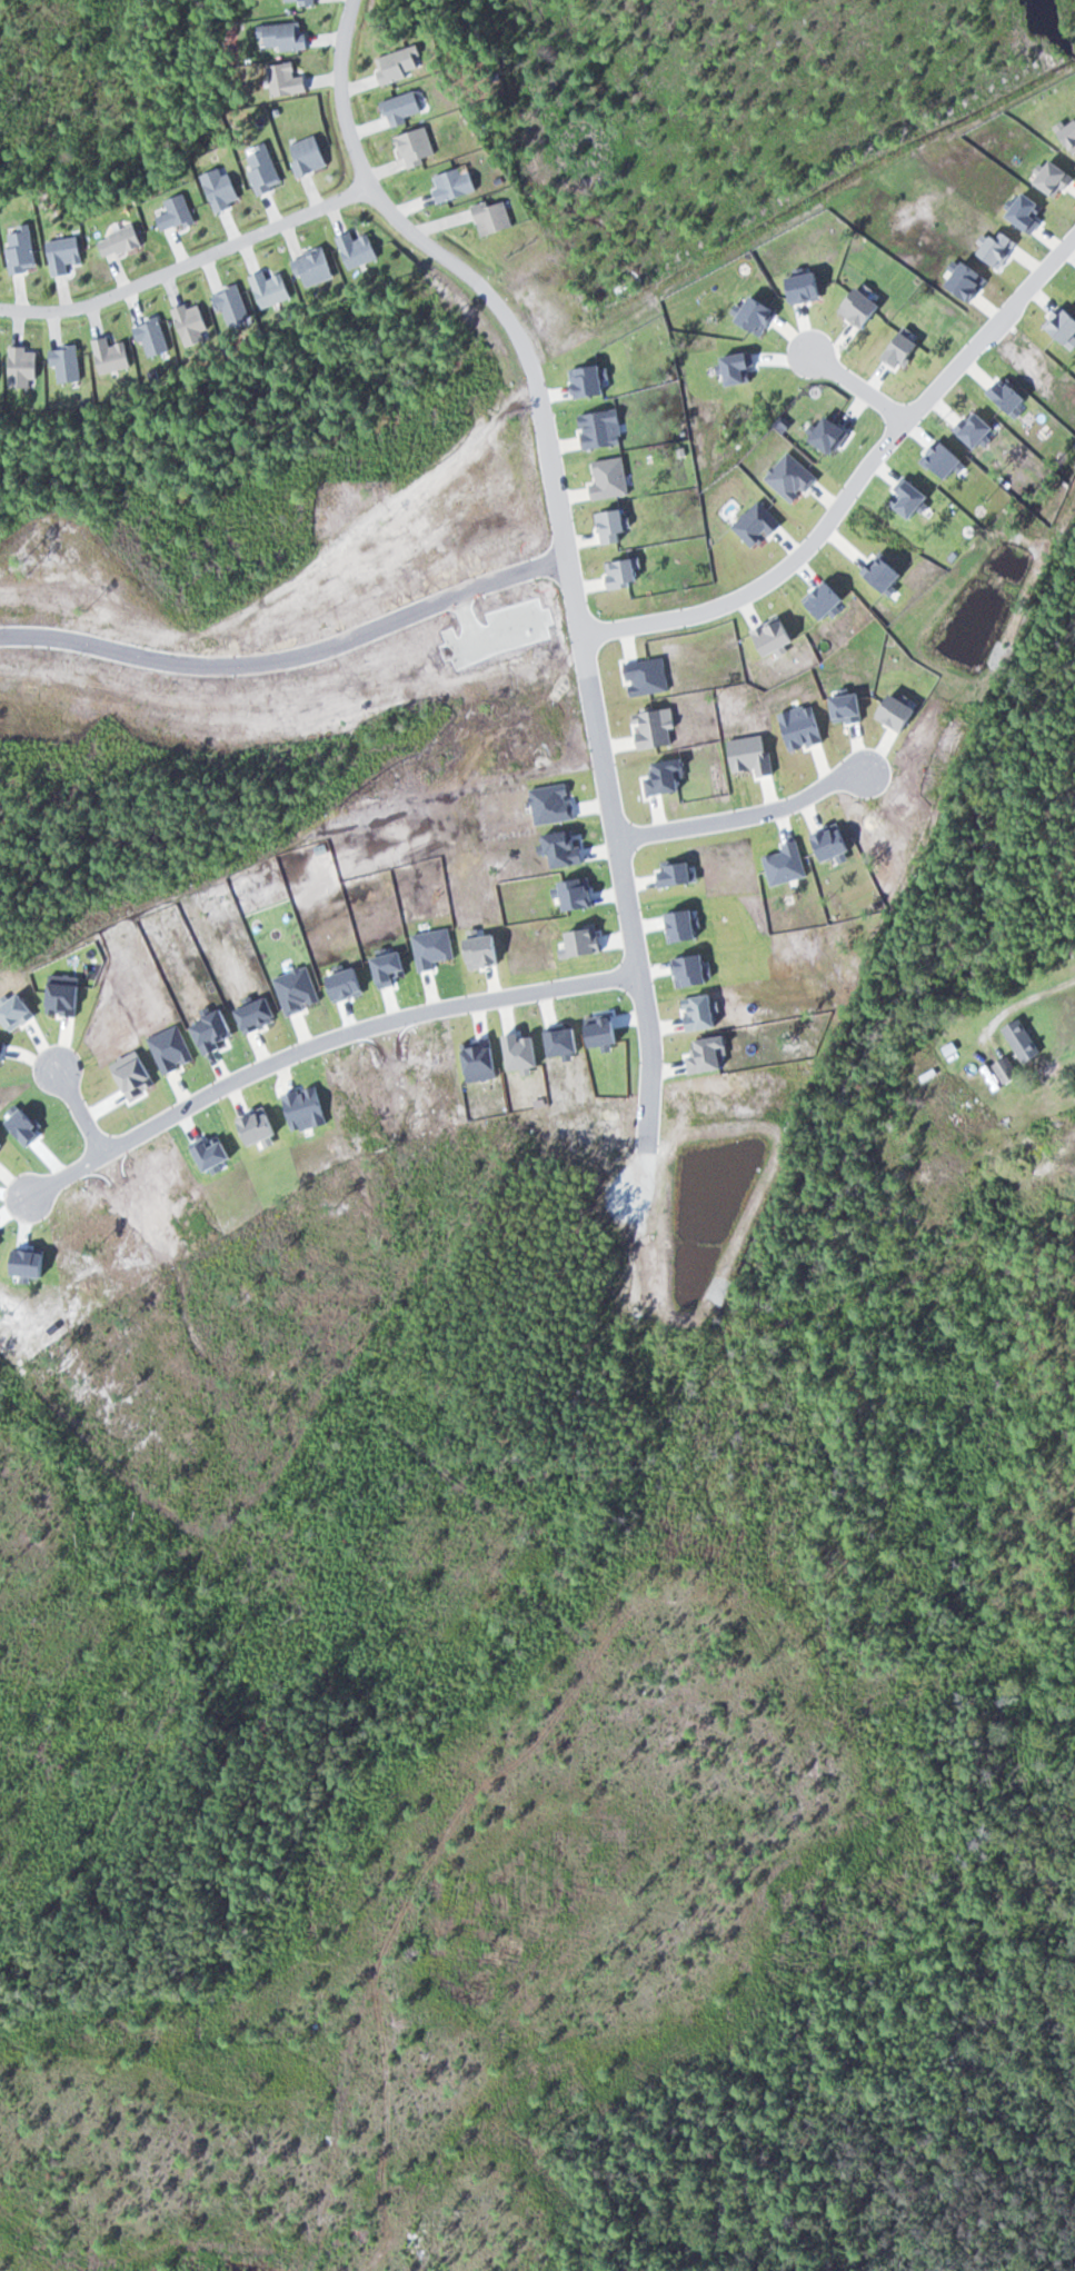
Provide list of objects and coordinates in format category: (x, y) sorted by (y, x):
road: (188, 260)
road: (556, 538)
building: (1026, 1040)
building: (1012, 1069)

